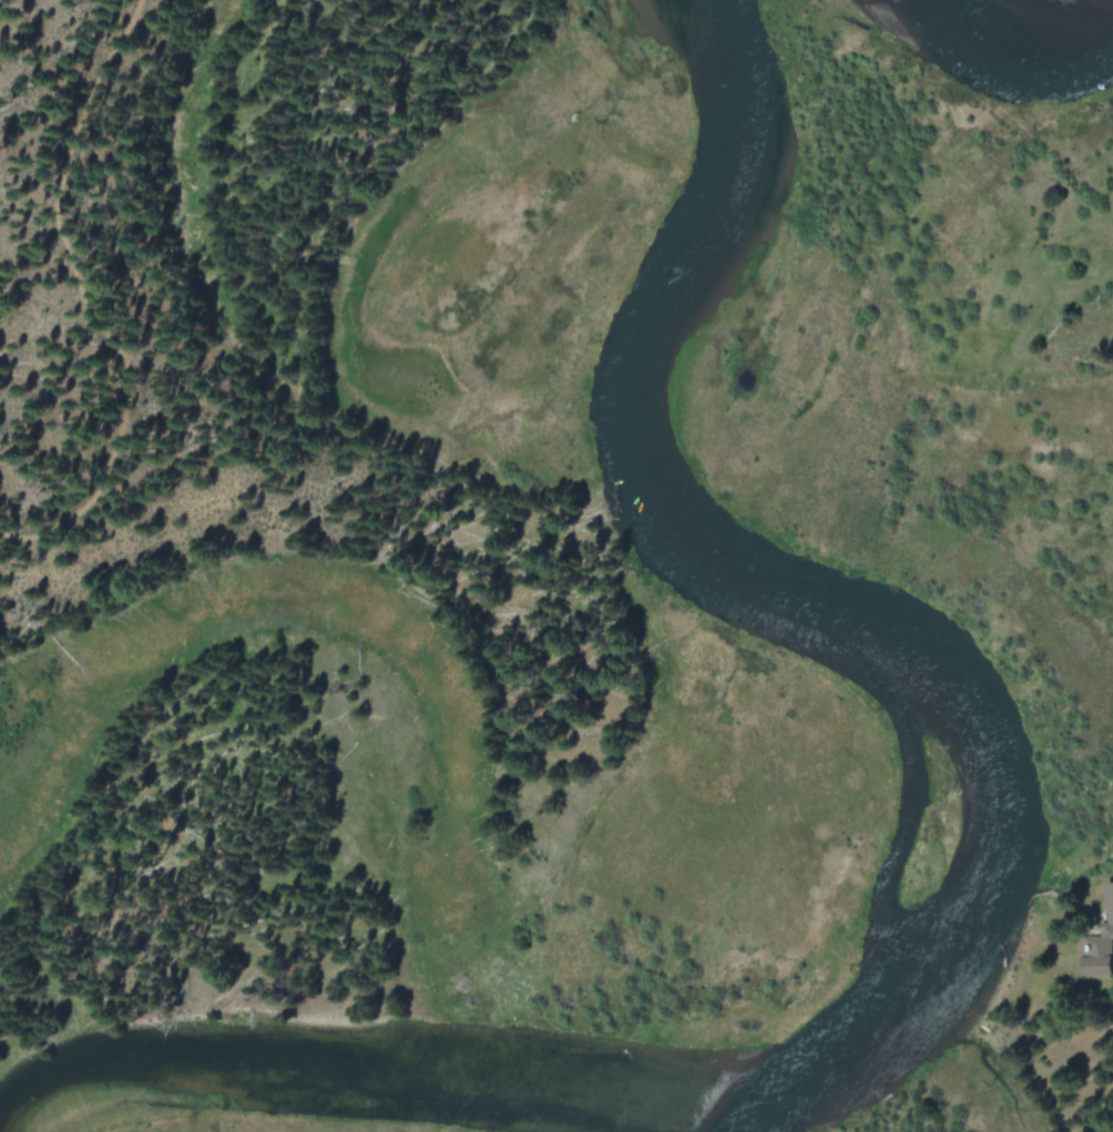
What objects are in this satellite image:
river: (1015, 31)
road: (85, 300)
river: (798, 609)
building: (1099, 945)

